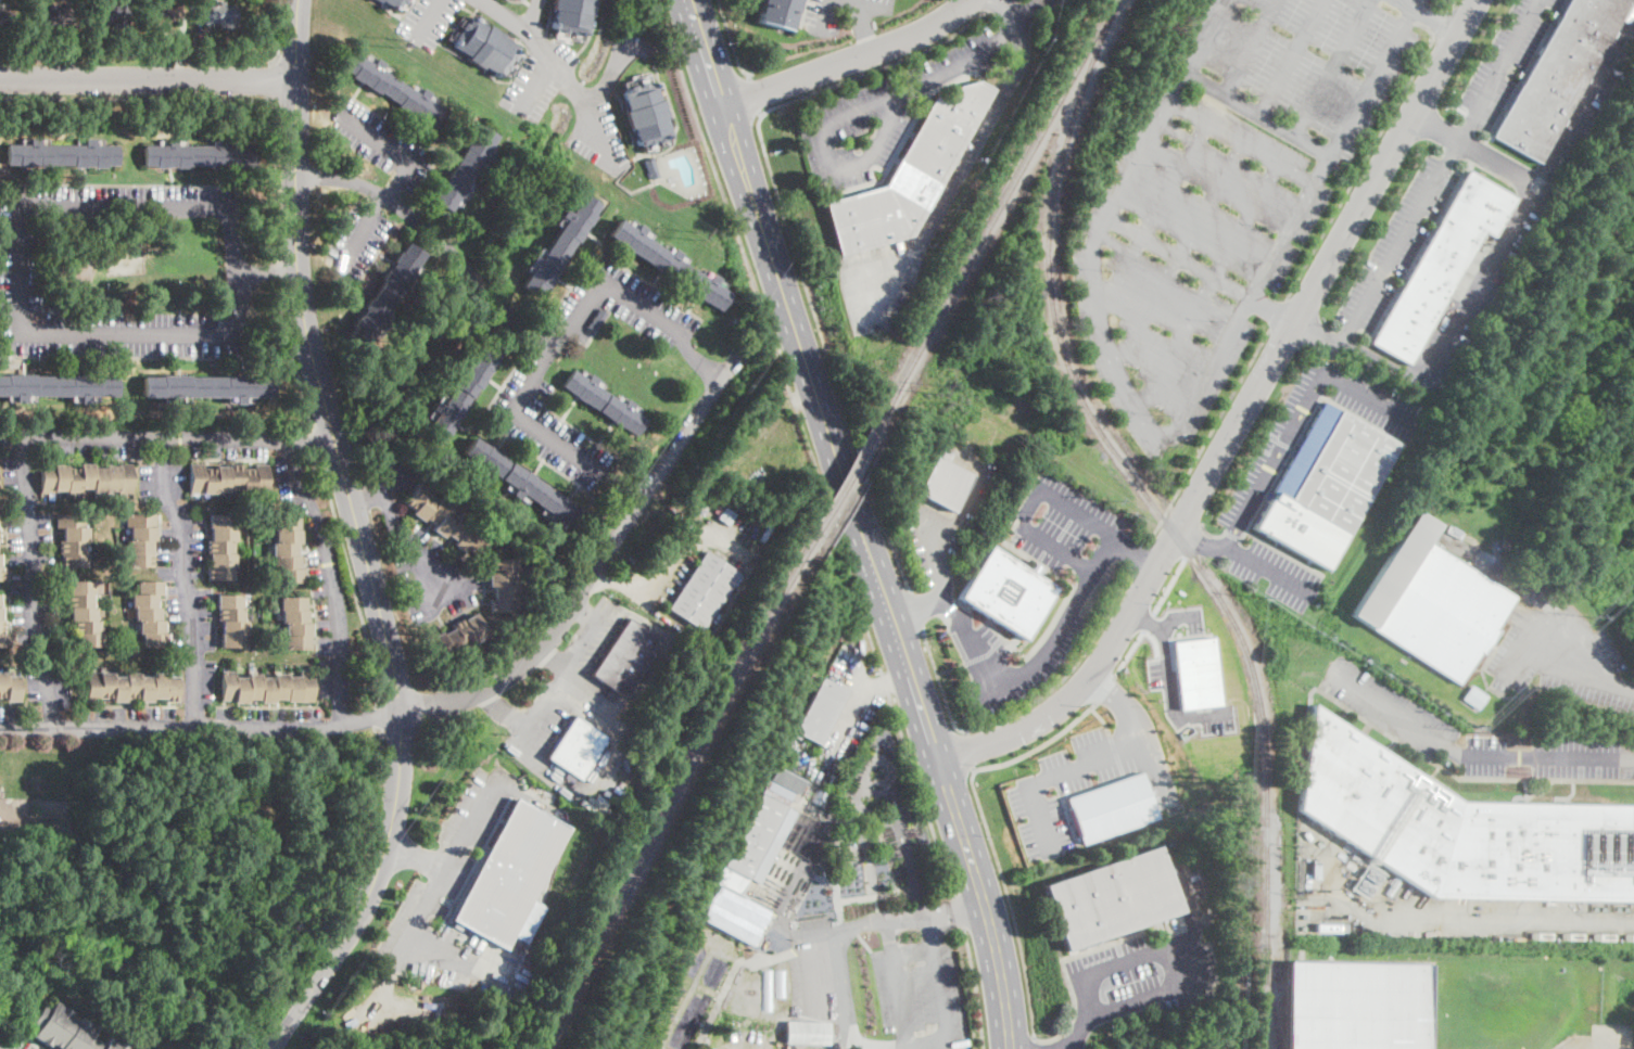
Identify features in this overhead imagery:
building: (519, 0)
building: (393, 3)
road: (1452, 3)
road: (989, 4)
building: (777, 13)
building: (109, 14)
building: (220, 14)
road: (826, 14)
building: (571, 15)
building: (159, 16)
road: (428, 16)
building: (52, 17)
parking lot: (821, 20)
road: (1019, 20)
parking lot: (428, 21)
road: (516, 21)
building: (2, 23)
road: (1441, 23)
road: (866, 24)
road: (279, 28)
road: (730, 39)
power tower: (395, 40)
parking lot: (637, 41)
building: (484, 47)
road: (849, 60)
parking lot: (1504, 61)
road: (612, 64)
building: (1557, 75)
road: (148, 78)
road: (277, 78)
road: (535, 81)
parking lot: (530, 88)
building: (395, 89)
road: (572, 91)
road: (751, 93)
road: (1584, 95)
road: (218, 99)
road: (852, 110)
building: (646, 114)
parking lot: (878, 116)
road: (1435, 125)
parking lot: (598, 136)
parking lot: (380, 142)
road: (395, 150)
building: (61, 154)
building: (199, 155)
building: (651, 167)
road: (1359, 168)
building: (465, 169)
road: (1436, 170)
road: (960, 172)
building: (910, 176)
parking lot: (129, 200)
railway: (1001, 207)
parking lot: (1516, 226)
road: (359, 229)
road: (790, 232)
power tower: (694, 234)
parking lot: (356, 240)
parking lot: (1397, 243)
building: (559, 245)
road: (20, 251)
park: (124, 258)
parking lot: (20, 261)
building: (669, 264)
building: (1441, 264)
road: (279, 270)
road: (1477, 287)
building: (385, 294)
parking lot: (618, 306)
road: (1277, 312)
building: (597, 320)
road: (524, 328)
road: (1318, 333)
road: (292, 357)
road: (314, 361)
building: (56, 386)
building: (205, 387)
power tower: (937, 387)
building: (461, 391)
road: (1366, 396)
building: (604, 401)
road: (1242, 418)
parking lot: (547, 419)
road: (1209, 434)
road: (549, 435)
road: (166, 437)
road: (315, 442)
road: (1281, 443)
road: (805, 447)
building: (86, 478)
building: (228, 478)
railway: (848, 481)
building: (945, 482)
building: (523, 483)
parking lot: (1253, 483)
building: (1326, 486)
power tower: (1110, 499)
road: (1027, 507)
railway: (1164, 517)
building: (447, 521)
road: (854, 523)
parking lot: (948, 524)
parking lot: (1067, 527)
road: (396, 533)
building: (74, 539)
building: (140, 539)
road: (1202, 541)
building: (221, 548)
building: (287, 549)
road: (1133, 553)
road: (1139, 557)
road: (936, 560)
road: (1267, 567)
building: (1, 573)
parking lot: (1275, 573)
road: (596, 576)
road: (351, 577)
road: (329, 578)
road: (187, 580)
road: (33, 584)
road: (1168, 585)
building: (504, 587)
building: (704, 591)
building: (1009, 592)
power tower: (1258, 596)
building: (1431, 603)
road: (913, 607)
road: (1554, 607)
road: (915, 610)
building: (85, 614)
building: (149, 614)
power tower: (1591, 615)
road: (1179, 617)
building: (1, 619)
building: (232, 622)
road: (1149, 622)
building: (295, 623)
power tower: (1304, 623)
building: (459, 638)
parking lot: (978, 639)
road: (1528, 640)
road: (1154, 641)
road: (1130, 652)
road: (985, 653)
parking lot: (1560, 657)
building: (626, 658)
power tower: (1361, 660)
road: (1031, 667)
road: (950, 668)
road: (1067, 673)
building: (1196, 673)
parking lot: (1161, 674)
road: (939, 683)
road: (1169, 685)
building: (10, 687)
building: (131, 687)
building: (267, 687)
road: (1106, 688)
road: (558, 695)
building: (1473, 698)
parking lot: (1389, 708)
building: (821, 711)
road: (1102, 718)
road: (201, 727)
road: (1137, 728)
power tower: (1468, 730)
road: (1039, 744)
building: (577, 749)
road: (967, 750)
road: (1117, 753)
road: (1473, 753)
road: (1055, 775)
parking lot: (1085, 780)
railway: (676, 795)
building: (1112, 807)
building: (1461, 829)
building: (762, 831)
road: (902, 840)
road: (452, 849)
building: (1316, 870)
building: (511, 873)
building: (1392, 886)
road: (368, 893)
parking lot: (447, 894)
building: (1113, 898)
road: (1009, 899)
road: (952, 908)
road: (417, 911)
road: (960, 912)
building: (735, 914)
road: (1500, 918)
building: (1331, 929)
road: (1178, 939)
road: (1060, 962)
road: (841, 965)
building: (677, 971)
parking lot: (1143, 974)
building: (411, 983)
road: (895, 983)
road: (975, 988)
parking lot: (921, 993)
road: (940, 996)
building: (666, 1005)
railway: (1276, 1005)
building: (1356, 1006)
building: (695, 1021)
building: (66, 1031)
road: (1082, 1032)
building: (807, 1033)
parking lot: (20, 1042)
road: (255, 1042)
road: (1034, 1042)
road: (1066, 1048)

